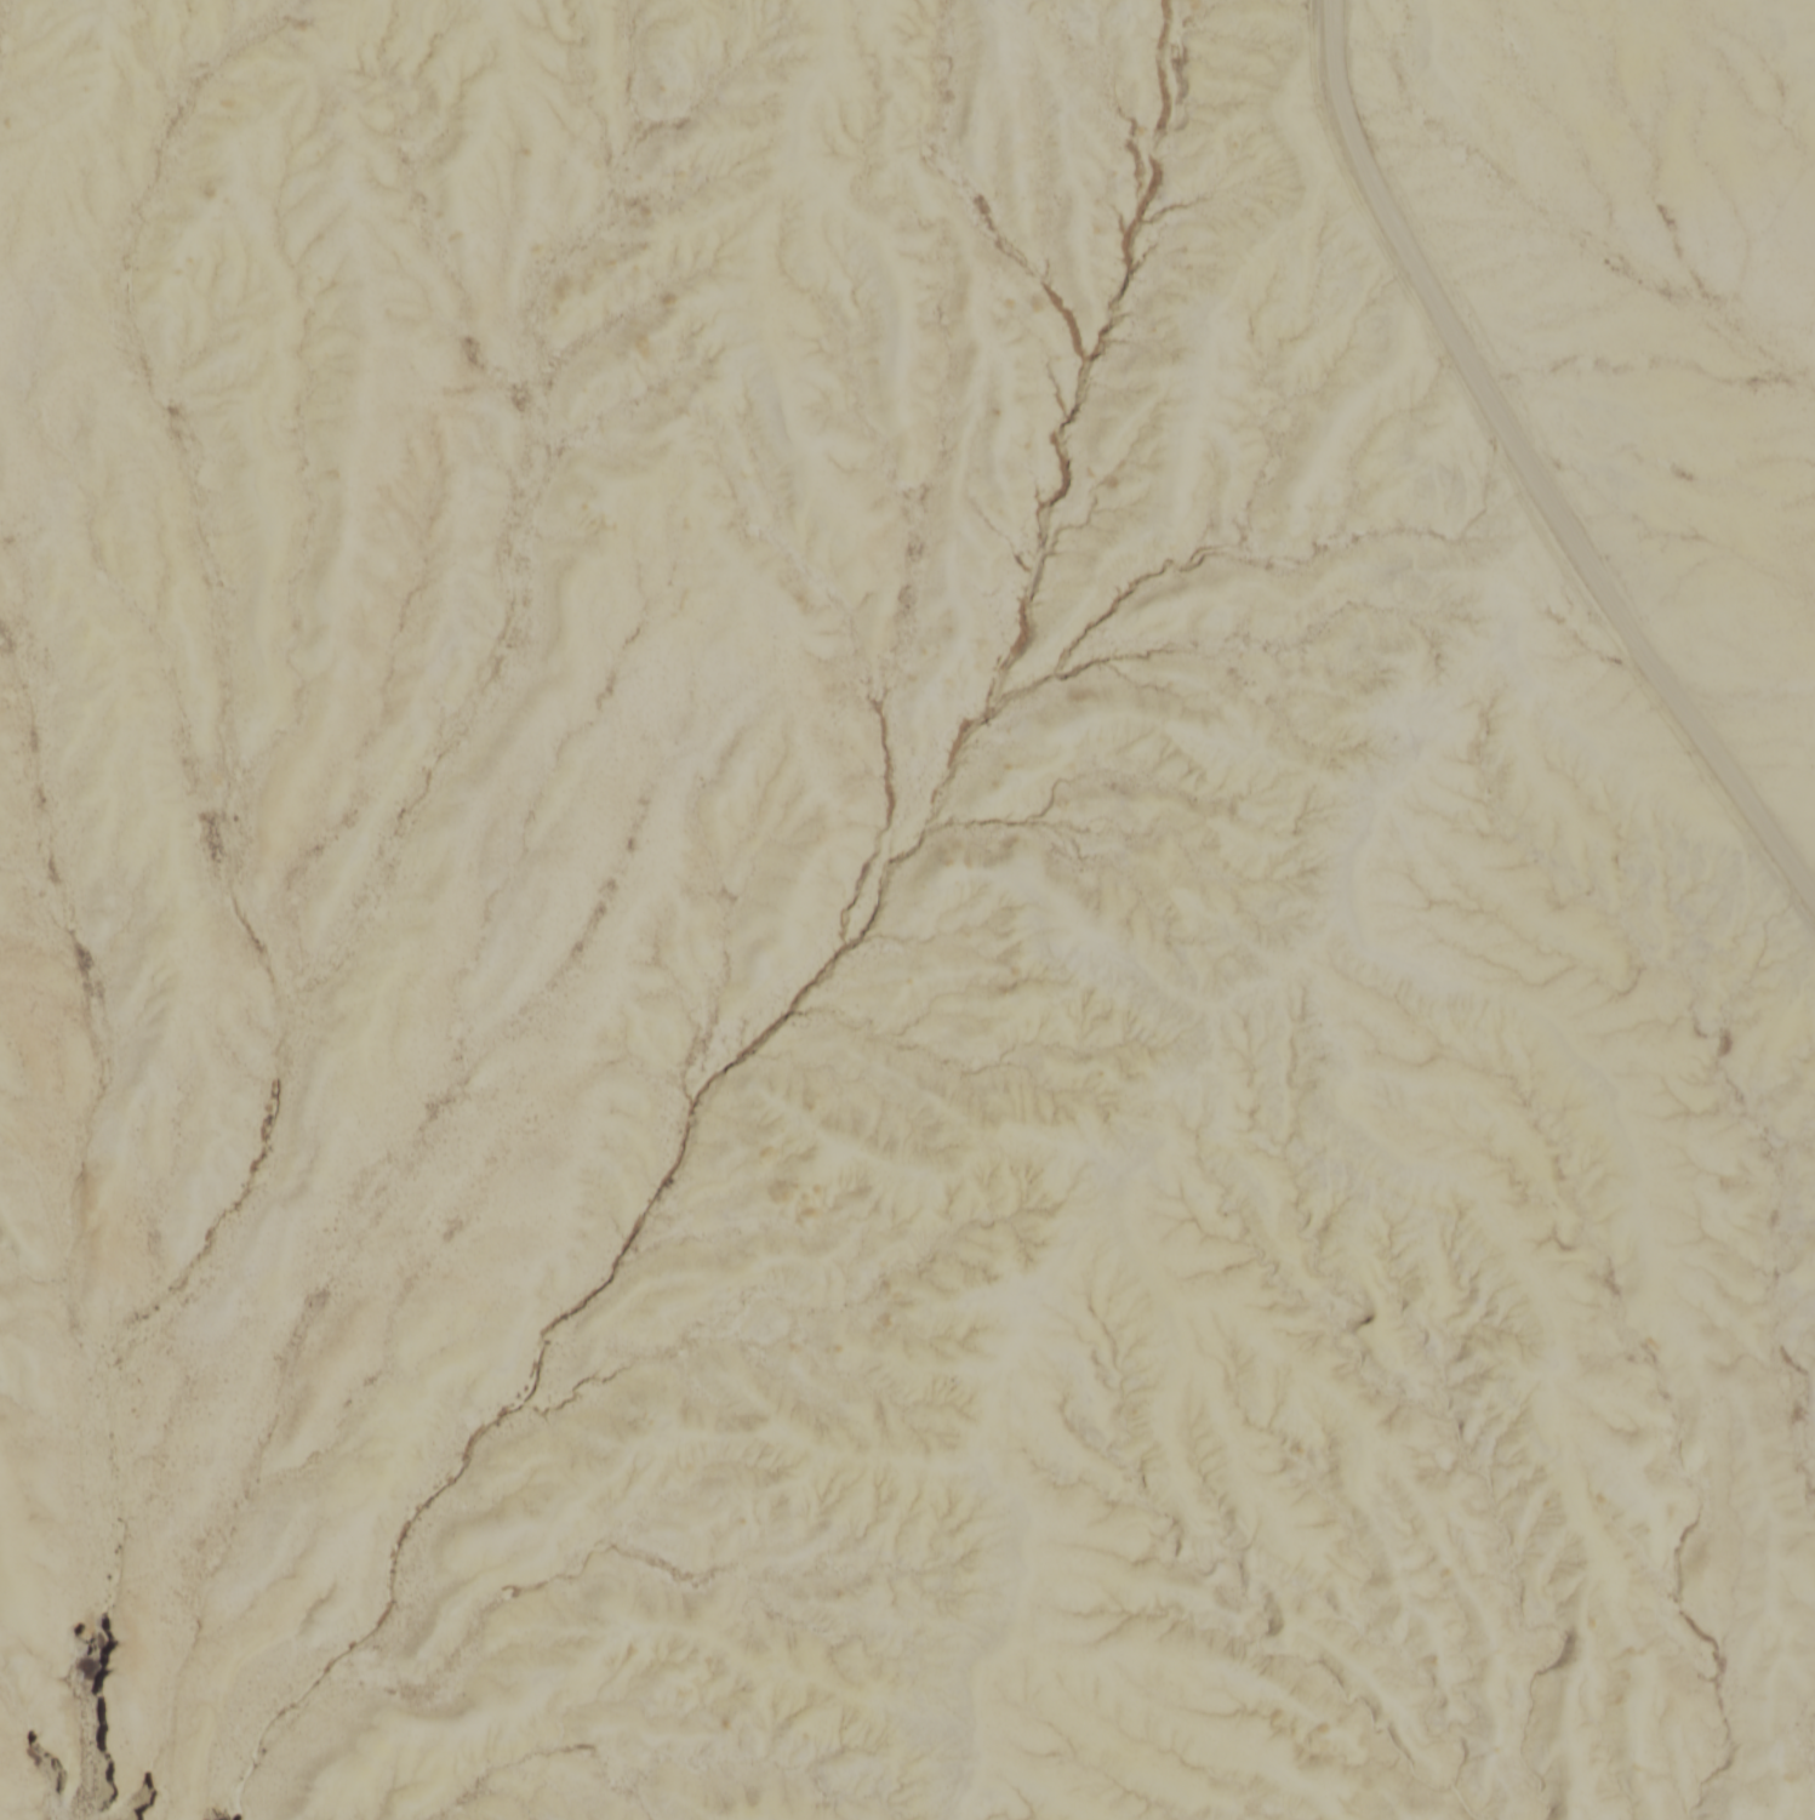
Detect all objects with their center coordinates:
road: (1529, 467)

